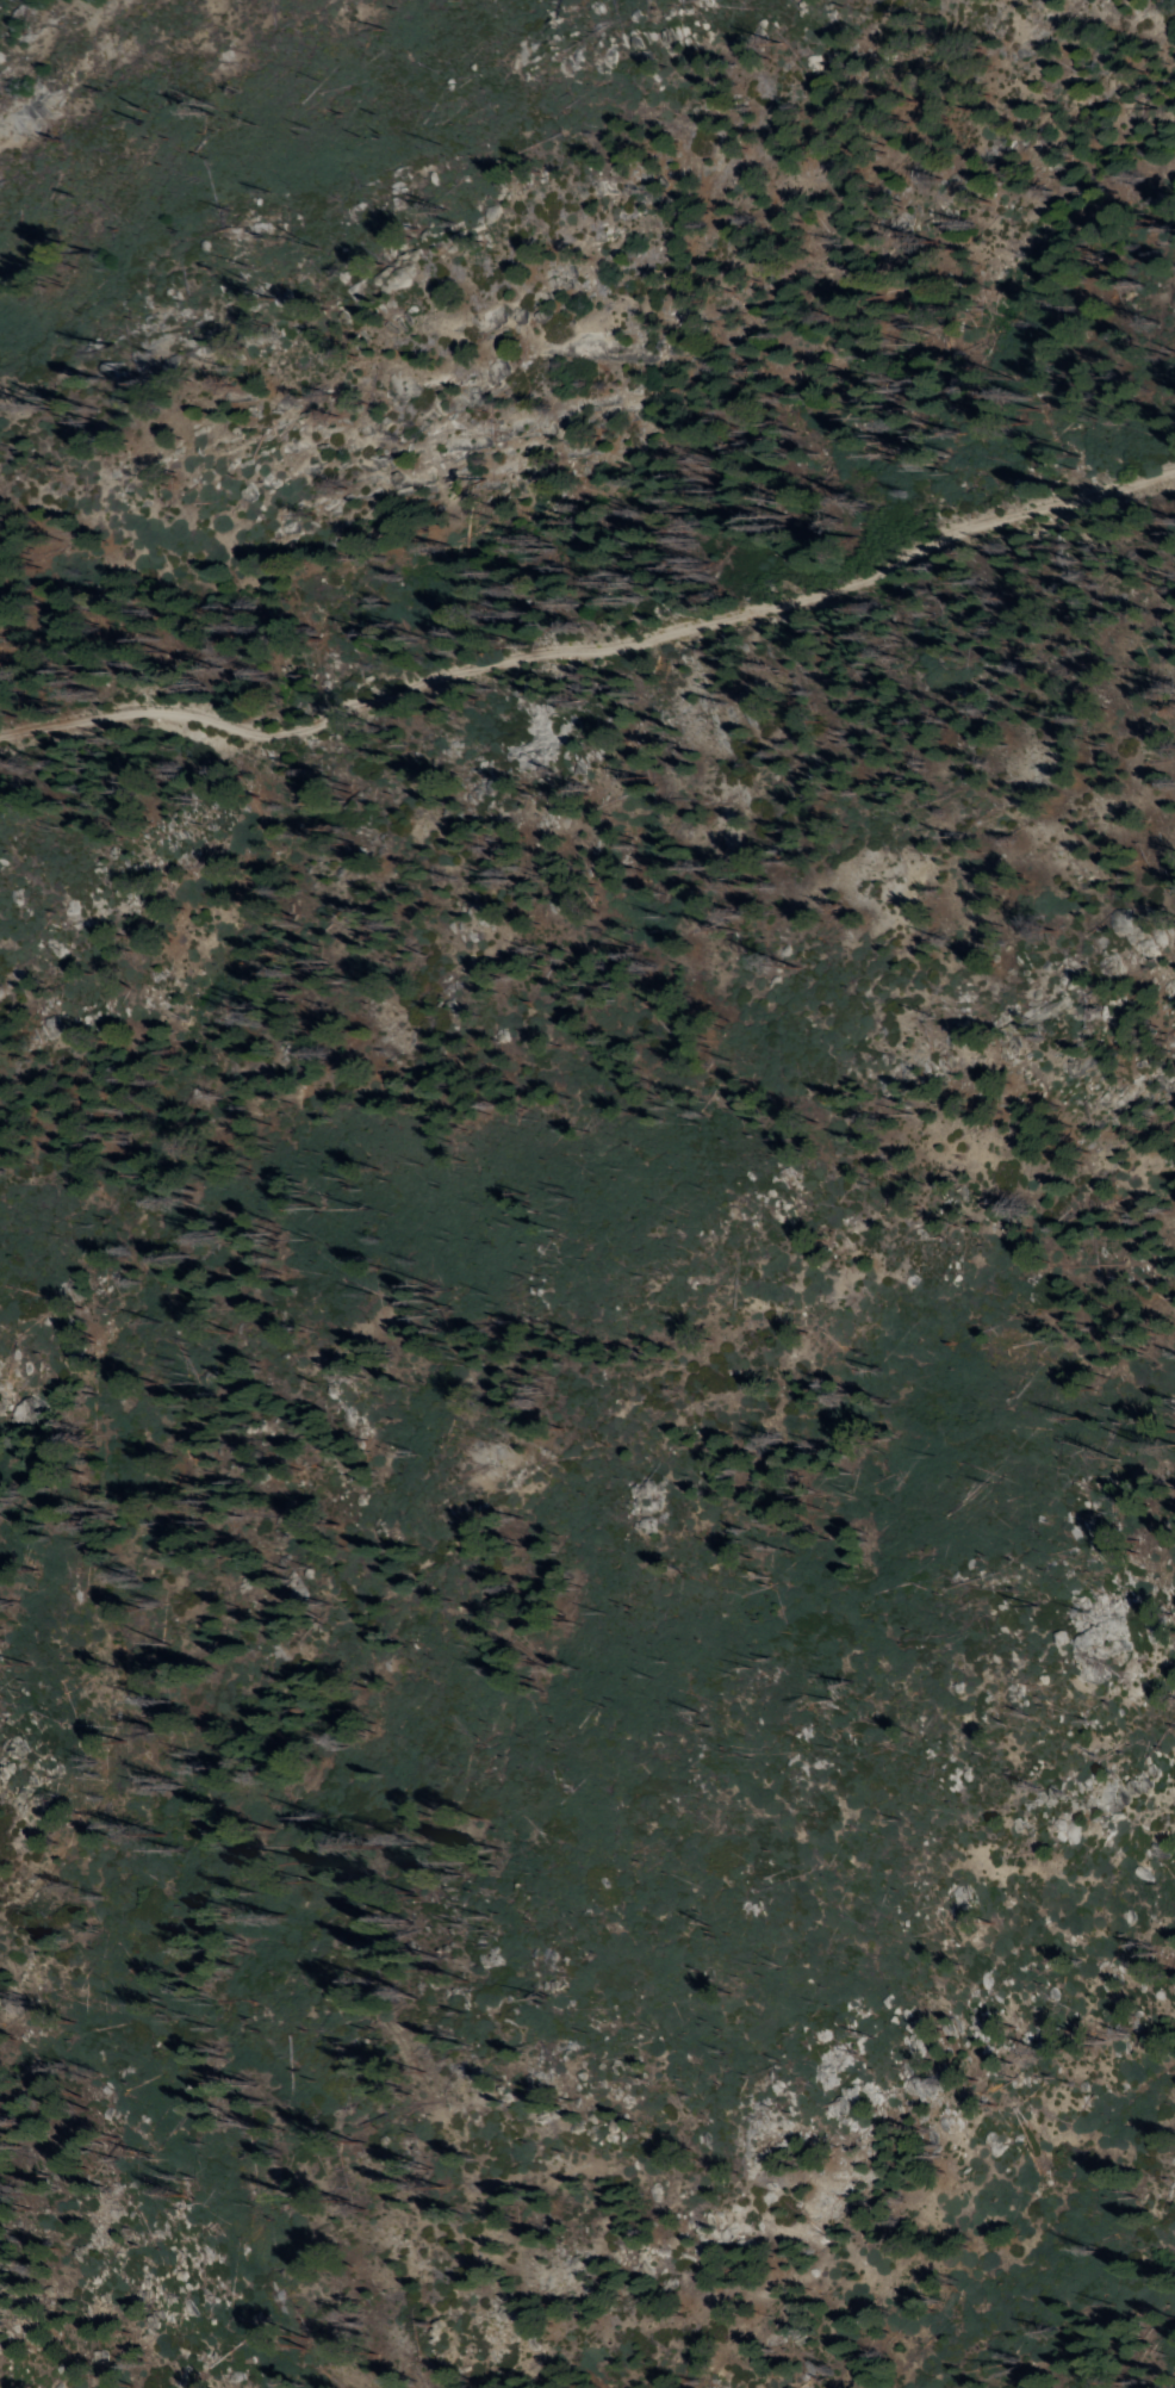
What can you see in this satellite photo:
road: (591, 633)

